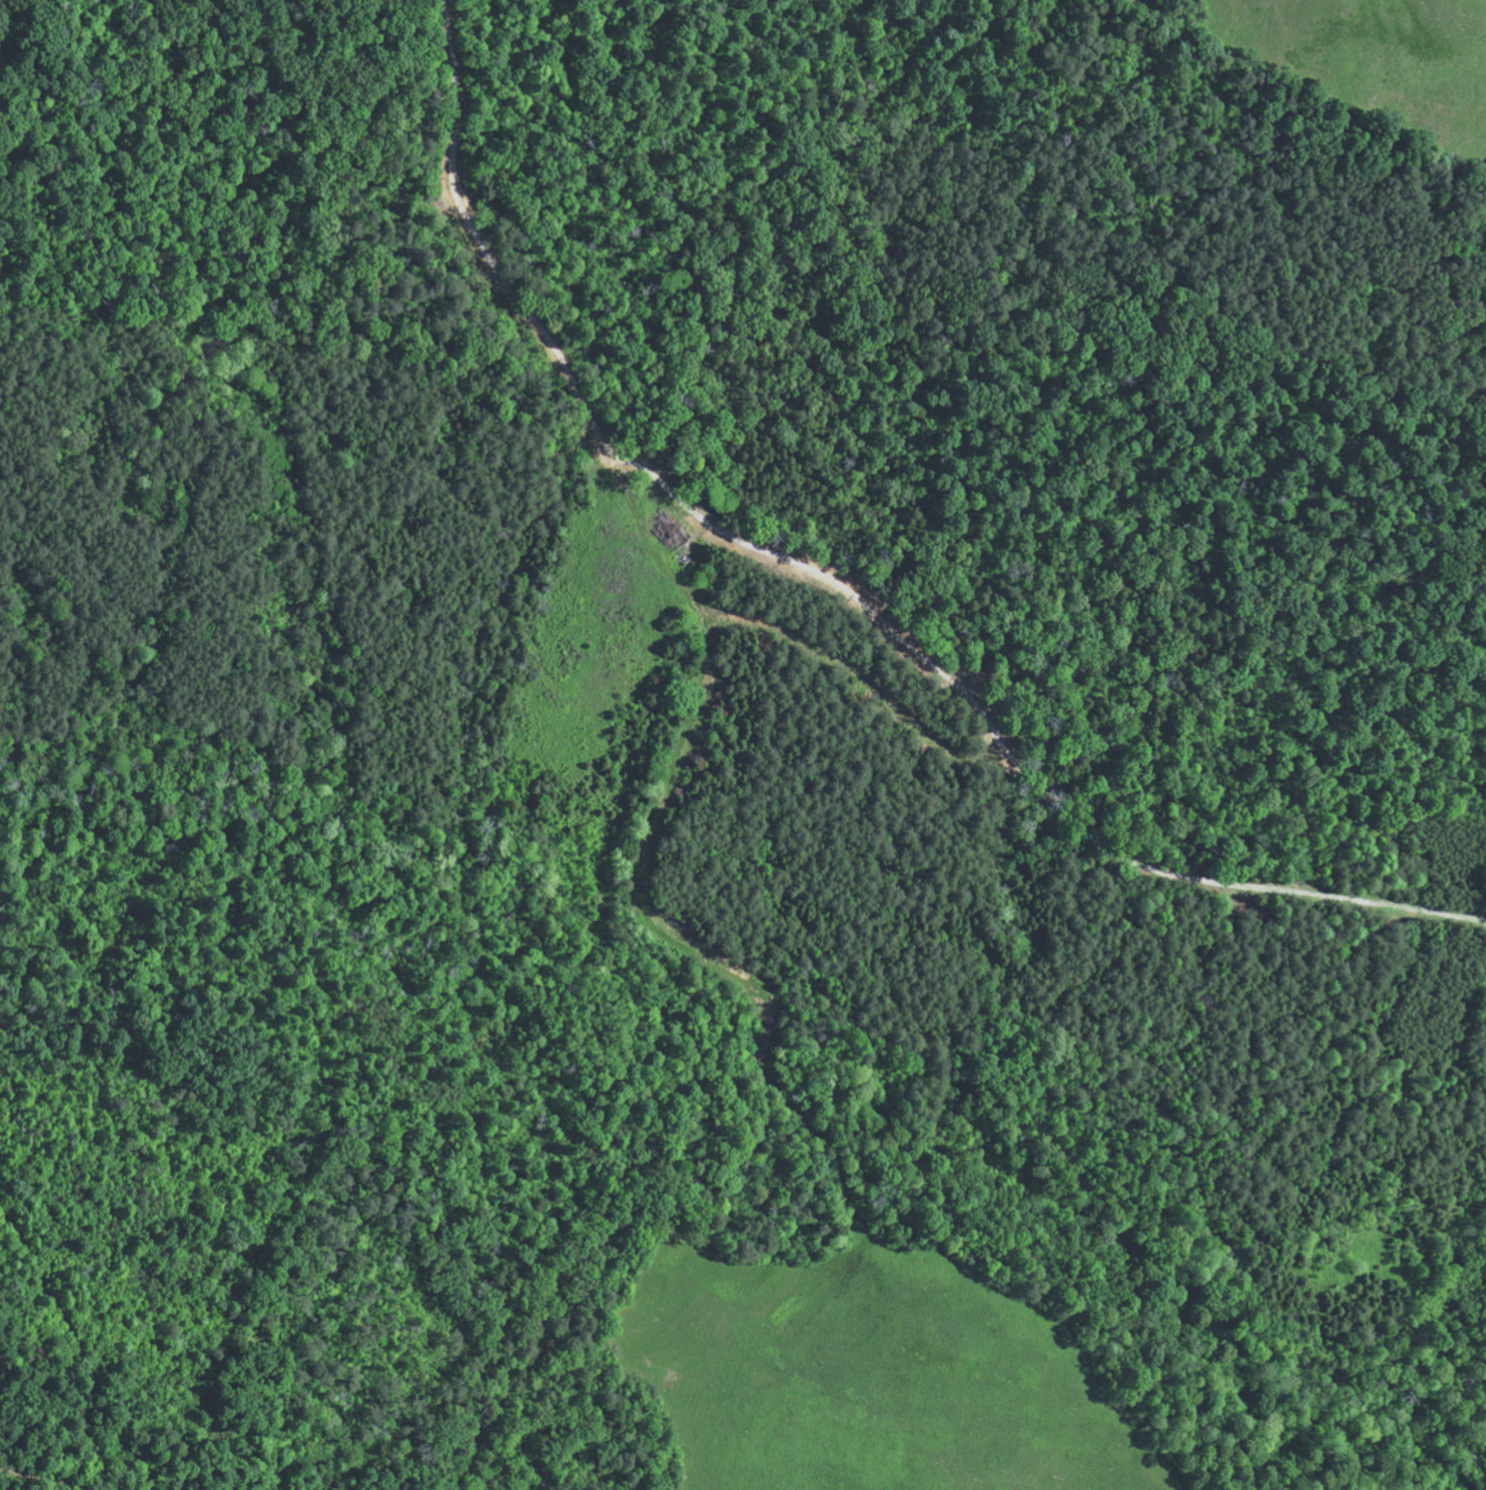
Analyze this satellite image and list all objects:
road: (477, 267)

